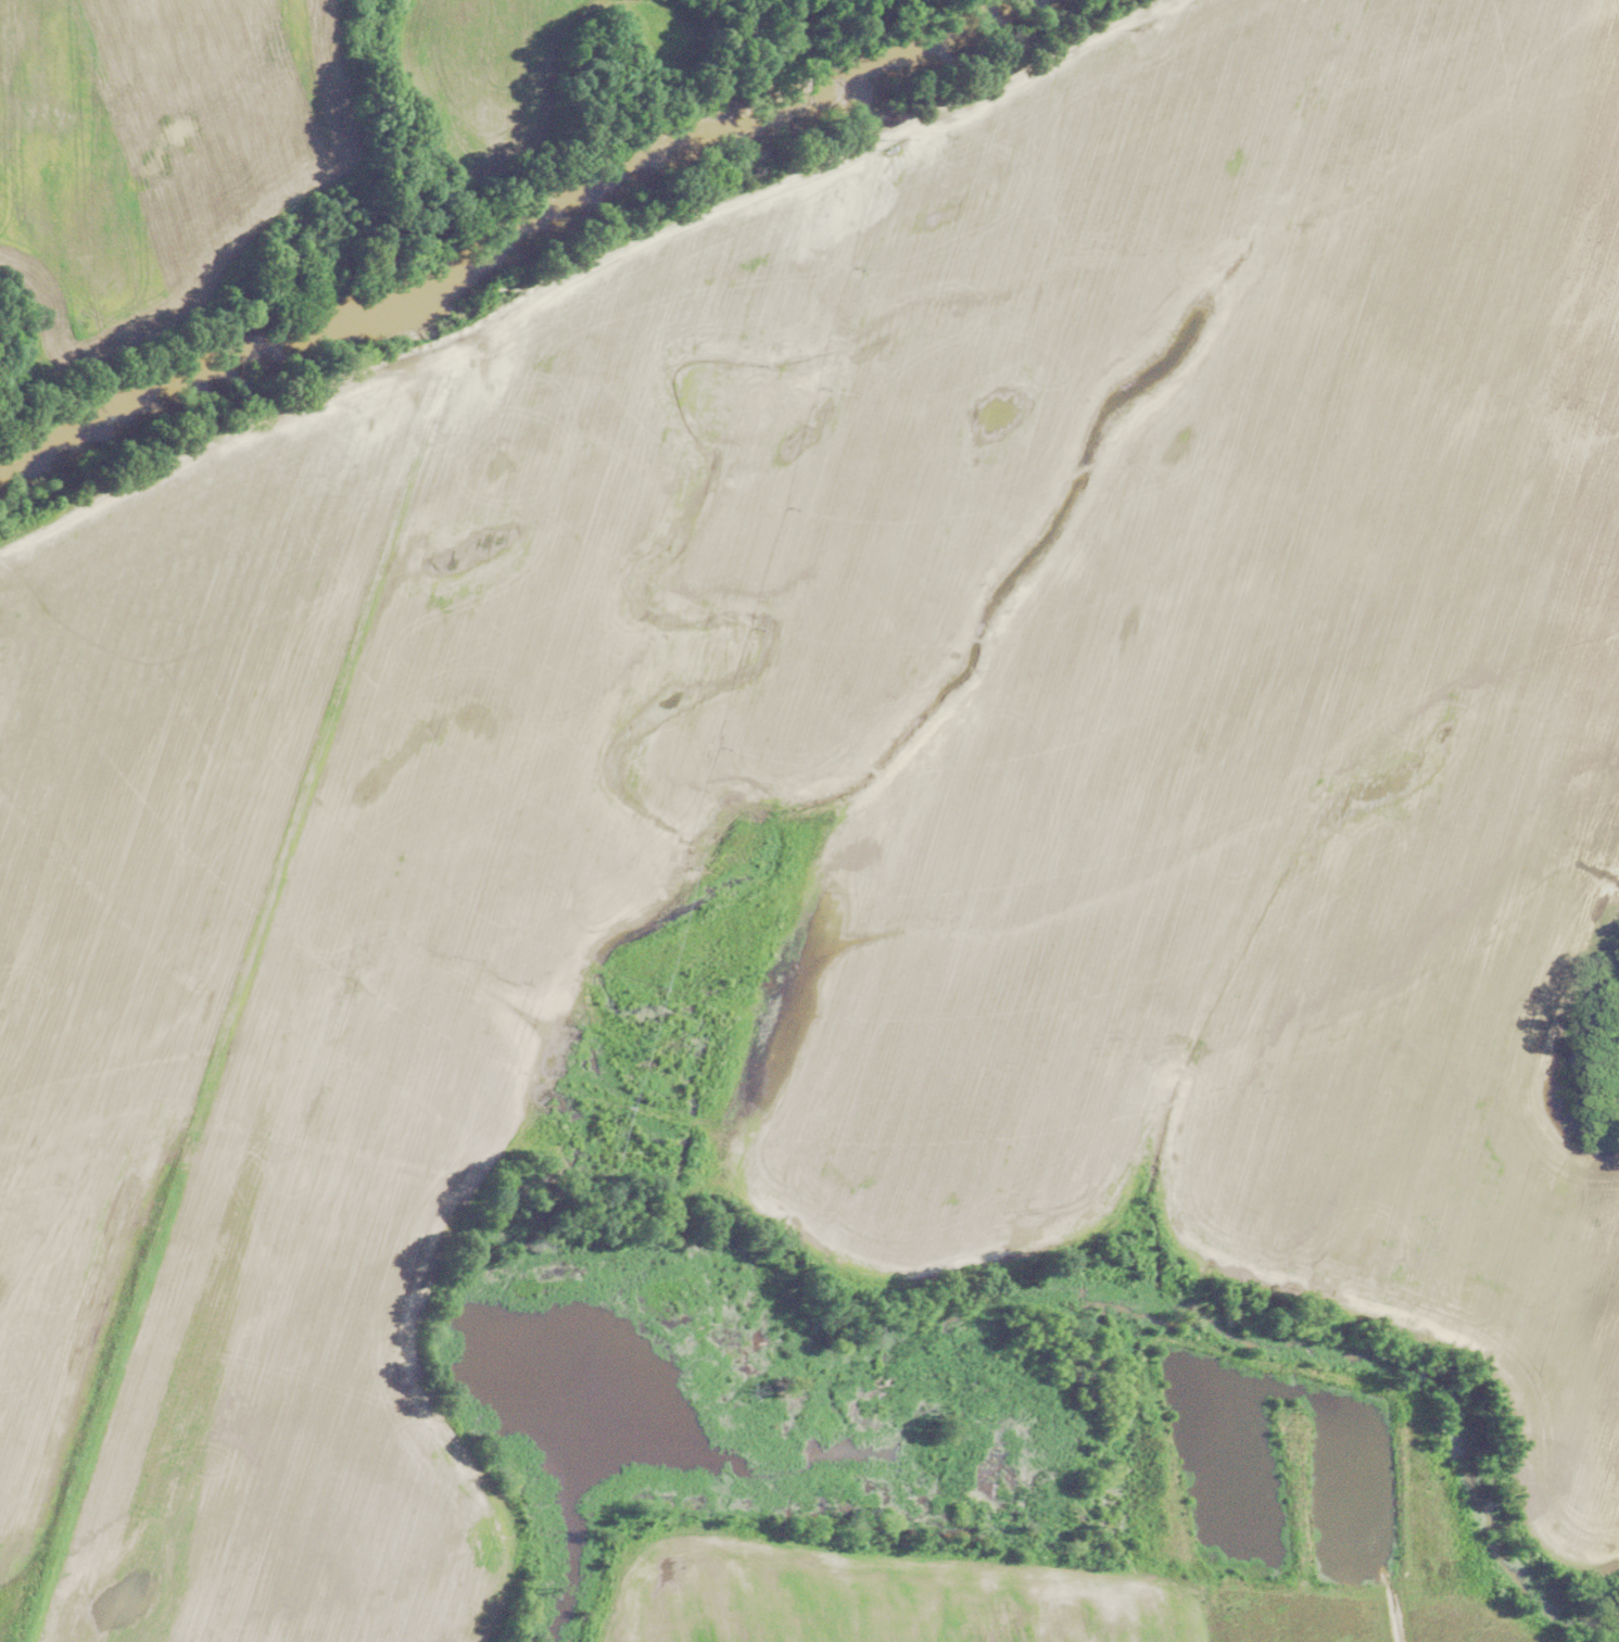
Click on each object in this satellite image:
river: (506, 243)

